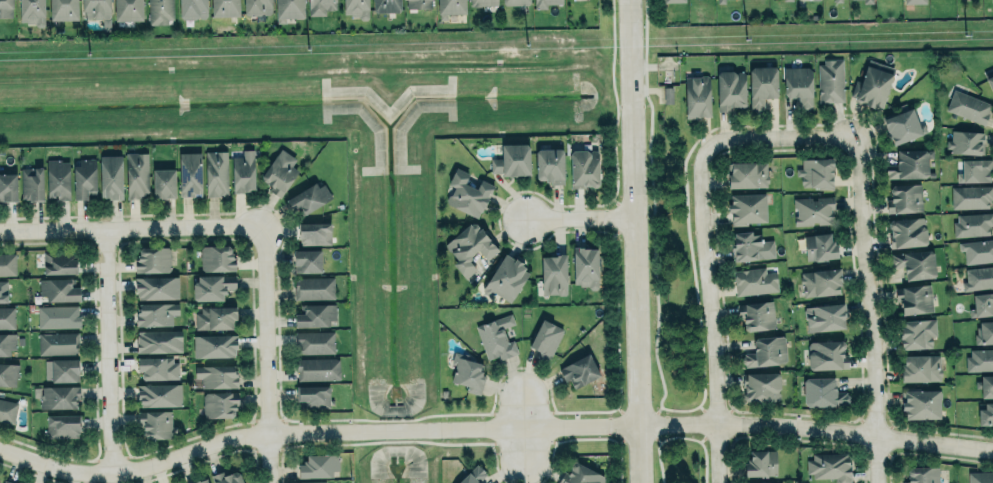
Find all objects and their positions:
building: (787, 0)
building: (839, 0)
building: (992, 0)
building: (673, 1)
building: (720, 1)
building: (868, 1)
building: (915, 1)
building: (482, 2)
building: (518, 3)
building: (545, 3)
building: (418, 4)
building: (386, 5)
building: (320, 6)
building: (256, 7)
building: (450, 7)
building: (6, 8)
building: (192, 8)
building: (224, 8)
building: (356, 8)
building: (64, 9)
building: (128, 9)
building: (289, 9)
building: (32, 11)
building: (98, 11)
building: (159, 11)
building: (831, 79)
building: (990, 82)
building: (762, 83)
building: (798, 84)
building: (874, 85)
building: (730, 89)
building: (697, 96)
building: (968, 106)
building: (903, 126)
road: (781, 141)
building: (965, 142)
building: (513, 159)
building: (549, 164)
building: (908, 164)
building: (583, 168)
building: (976, 170)
building: (242, 171)
building: (813, 171)
building: (279, 172)
building: (215, 173)
building: (137, 174)
building: (190, 174)
building: (747, 174)
building: (111, 176)
building: (84, 177)
building: (58, 179)
building: (31, 183)
building: (163, 183)
building: (8, 186)
building: (466, 194)
building: (970, 196)
building: (904, 197)
building: (309, 198)
building: (746, 207)
building: (814, 210)
road: (583, 217)
building: (972, 223)
road: (132, 228)
building: (907, 232)
building: (314, 233)
road: (638, 241)
building: (751, 246)
building: (819, 246)
building: (470, 247)
building: (976, 250)
building: (217, 258)
building: (153, 259)
building: (306, 260)
building: (59, 262)
building: (915, 263)
building: (7, 264)
building: (584, 266)
building: (554, 275)
building: (978, 277)
building: (506, 278)
building: (755, 281)
building: (820, 281)
building: (212, 286)
building: (156, 287)
building: (314, 287)
building: (58, 289)
building: (3, 291)
building: (914, 298)
building: (981, 304)
road: (872, 311)
road: (713, 312)
building: (156, 313)
building: (315, 314)
building: (757, 315)
building: (58, 316)
building: (824, 316)
building: (6, 317)
building: (214, 317)
building: (984, 332)
building: (915, 333)
building: (497, 337)
building: (545, 338)
building: (159, 341)
building: (314, 341)
building: (57, 342)
building: (7, 343)
building: (215, 345)
road: (109, 351)
building: (767, 351)
road: (267, 354)
building: (826, 354)
building: (979, 359)
building: (158, 367)
building: (317, 368)
building: (919, 368)
building: (61, 369)
building: (579, 370)
building: (468, 373)
building: (8, 374)
building: (216, 375)
building: (760, 386)
building: (986, 386)
building: (823, 392)
building: (159, 394)
building: (313, 395)
building: (58, 397)
building: (219, 404)
building: (920, 404)
road: (522, 408)
building: (7, 410)
building: (986, 413)
building: (155, 423)
building: (62, 425)
road: (492, 427)
road: (523, 444)
building: (760, 463)
building: (319, 465)
building: (829, 466)
building: (923, 474)
building: (473, 475)
building: (580, 475)
building: (225, 477)
building: (980, 477)
building: (7, 481)
building: (201, 481)
building: (314, 482)
building: (771, 482)

